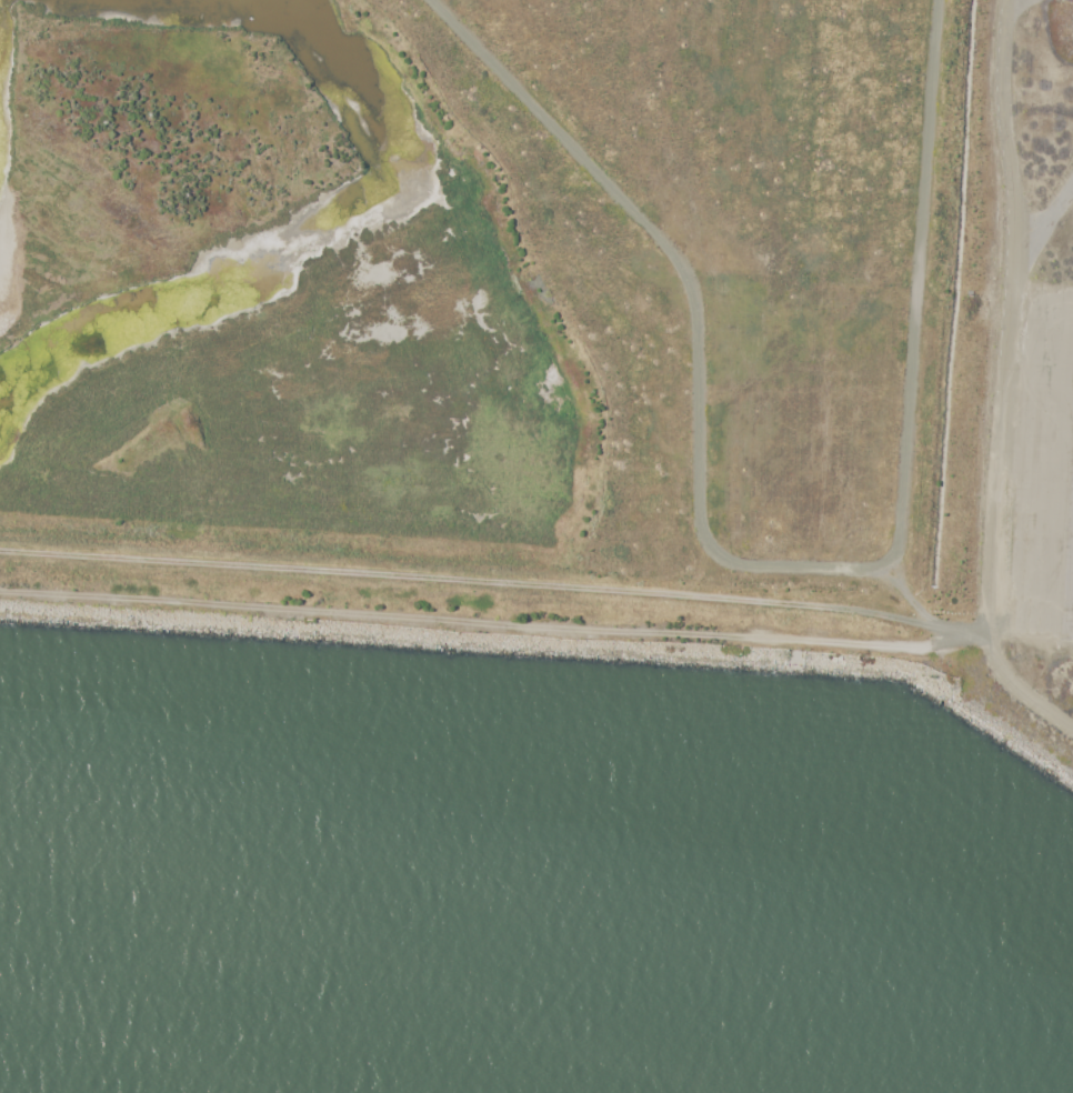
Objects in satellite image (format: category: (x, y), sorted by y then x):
road: (1003, 383)
road: (497, 581)

